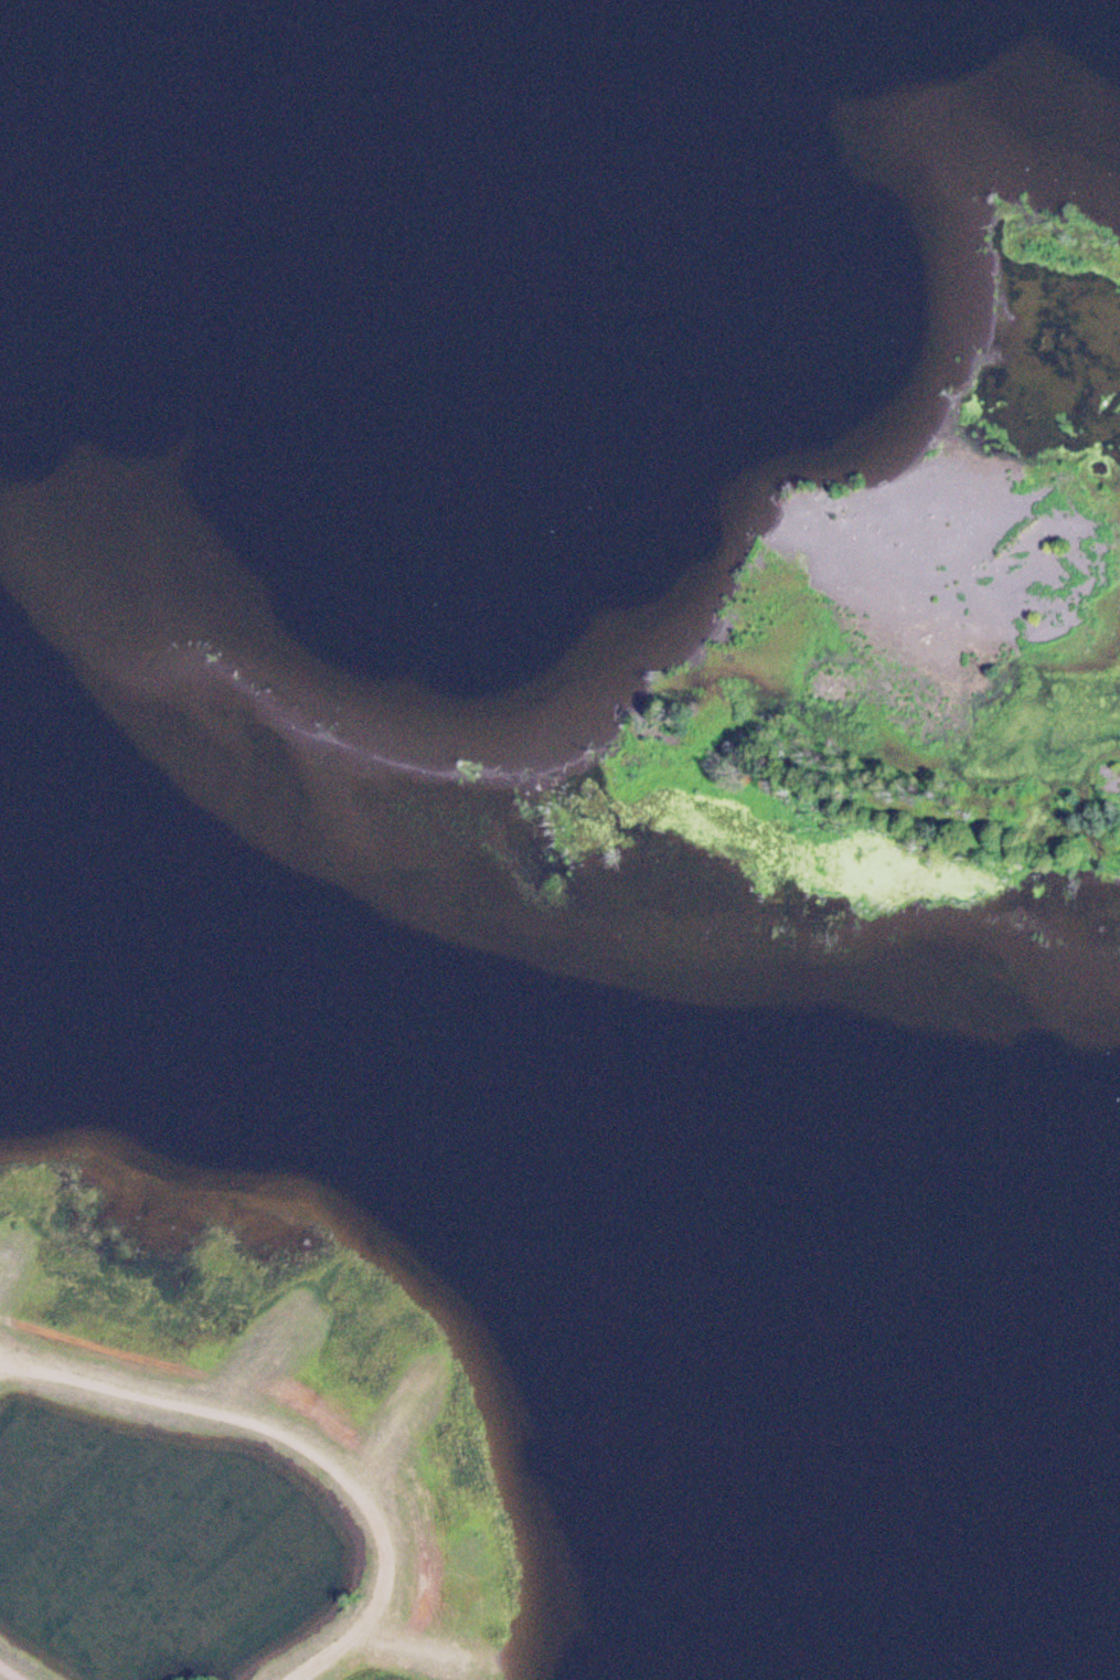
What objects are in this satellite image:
road: (298, 1442)
road: (14, 1670)

